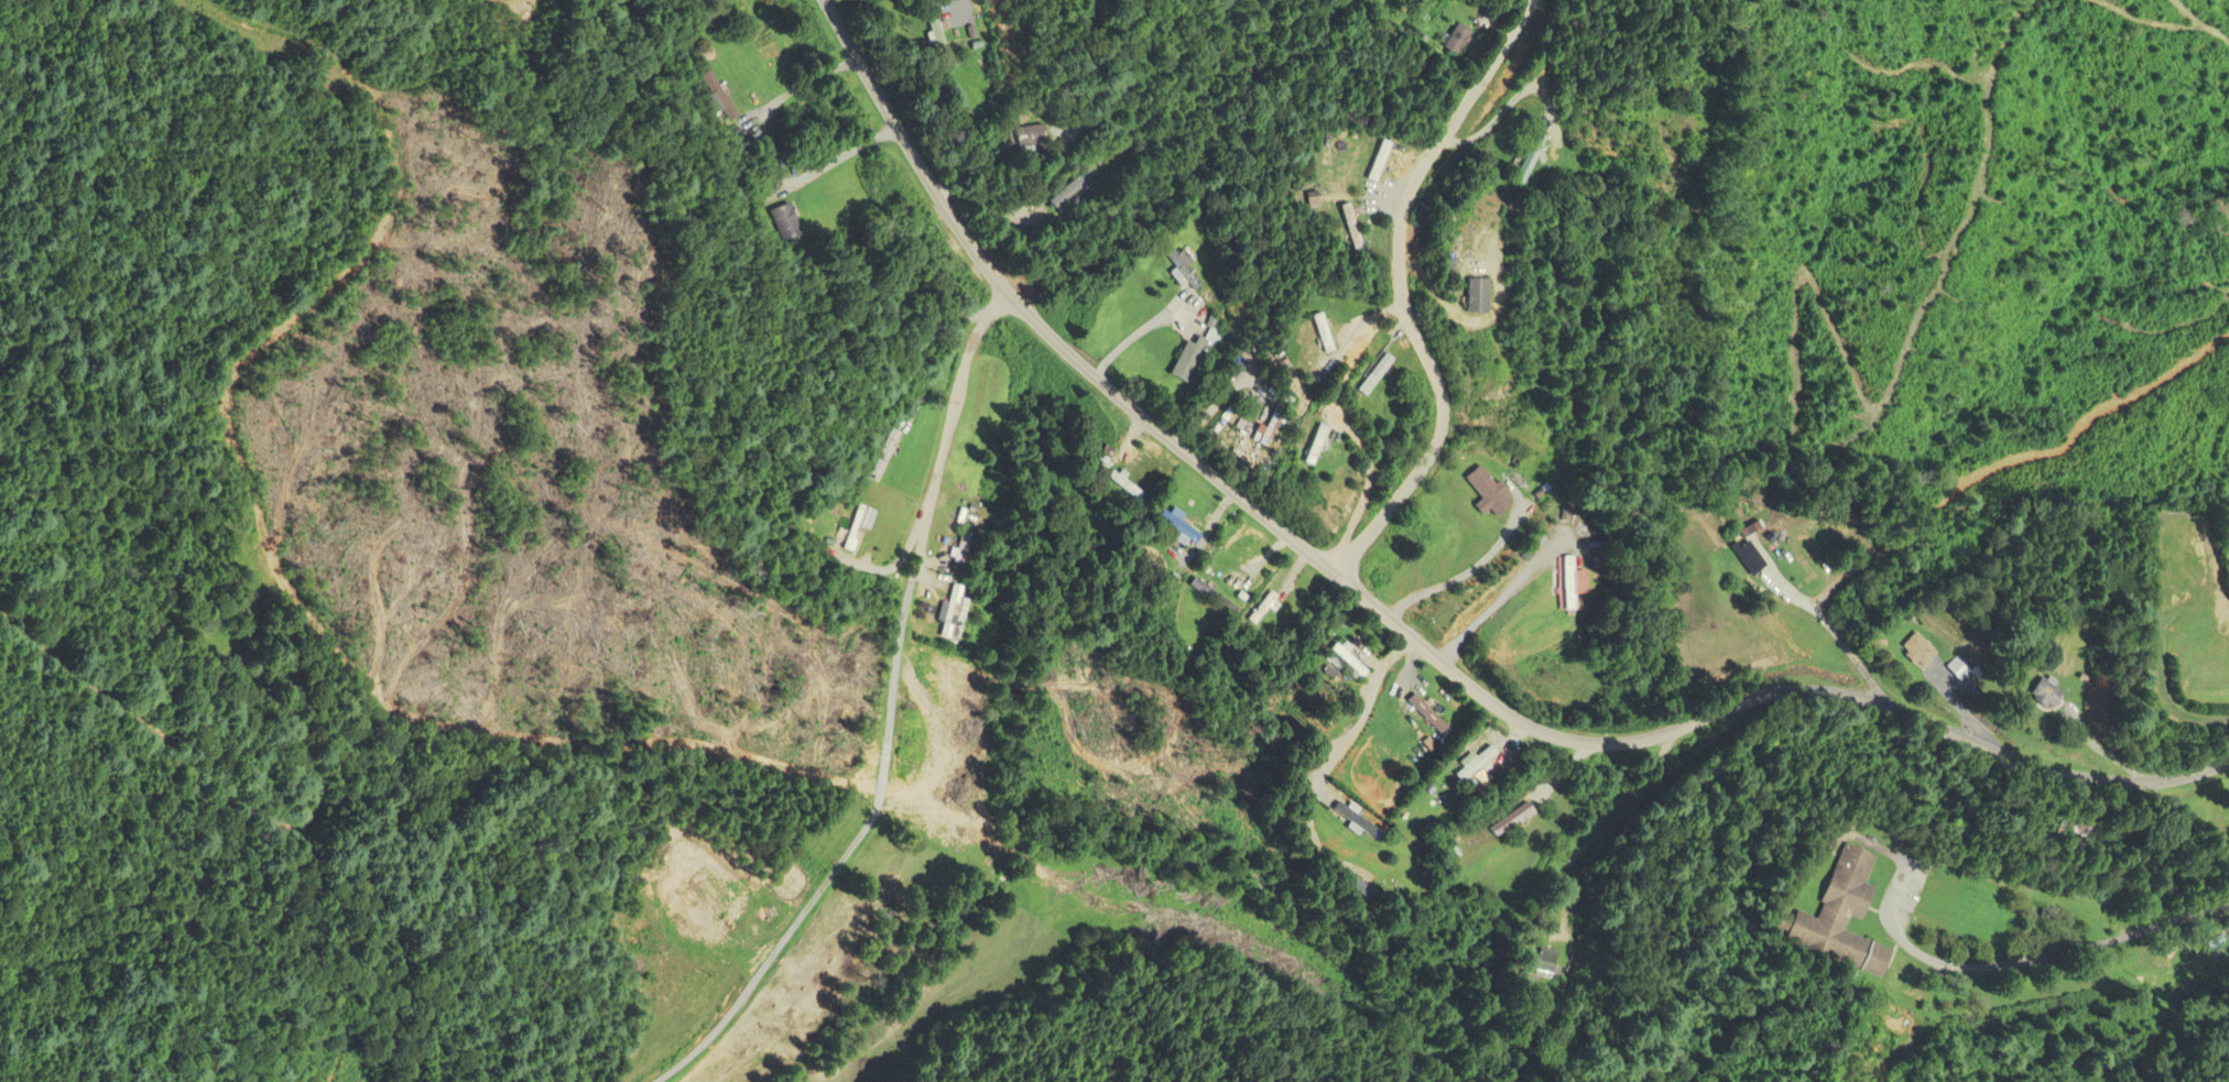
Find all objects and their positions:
building: (1464, 39)
road: (809, 81)
building: (719, 91)
building: (1041, 139)
building: (1536, 159)
building: (1383, 162)
building: (1075, 192)
building: (786, 222)
building: (1358, 229)
road: (1404, 293)
building: (1486, 294)
road: (1008, 295)
building: (1328, 332)
building: (1199, 352)
building: (1381, 374)
building: (1333, 449)
building: (890, 456)
building: (1132, 488)
building: (1491, 490)
building: (1182, 525)
building: (862, 528)
building: (969, 547)
building: (1757, 557)
road: (1461, 577)
building: (1588, 582)
building: (1221, 598)
road: (1497, 602)
building: (1269, 608)
building: (963, 611)
road: (1834, 631)
building: (1923, 649)
building: (1352, 658)
building: (1962, 667)
building: (2055, 691)
road: (1366, 711)
building: (1434, 713)
road: (1720, 714)
road: (898, 719)
building: (1487, 763)
building: (1515, 820)
building: (1849, 916)
road: (2175, 916)
building: (1547, 963)
road: (1997, 964)

